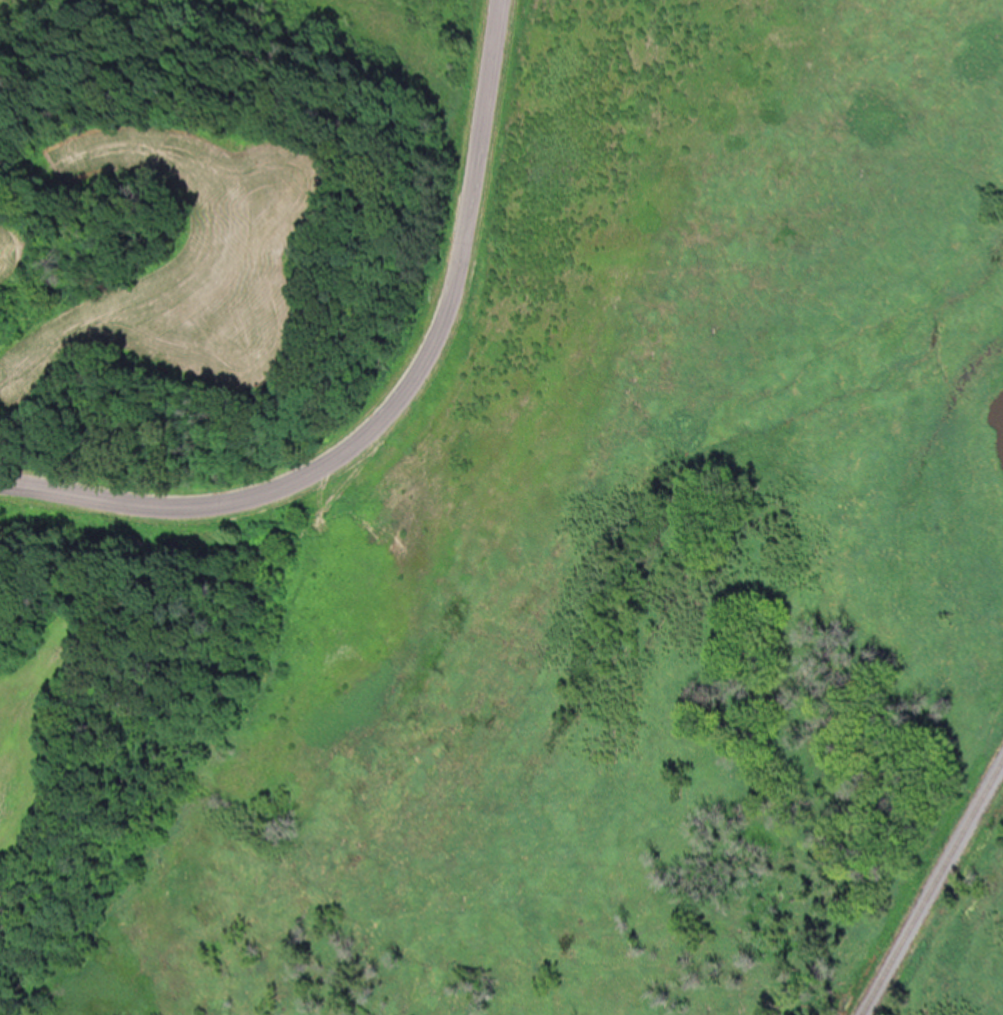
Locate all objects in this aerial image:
road: (391, 404)
railway: (928, 877)

